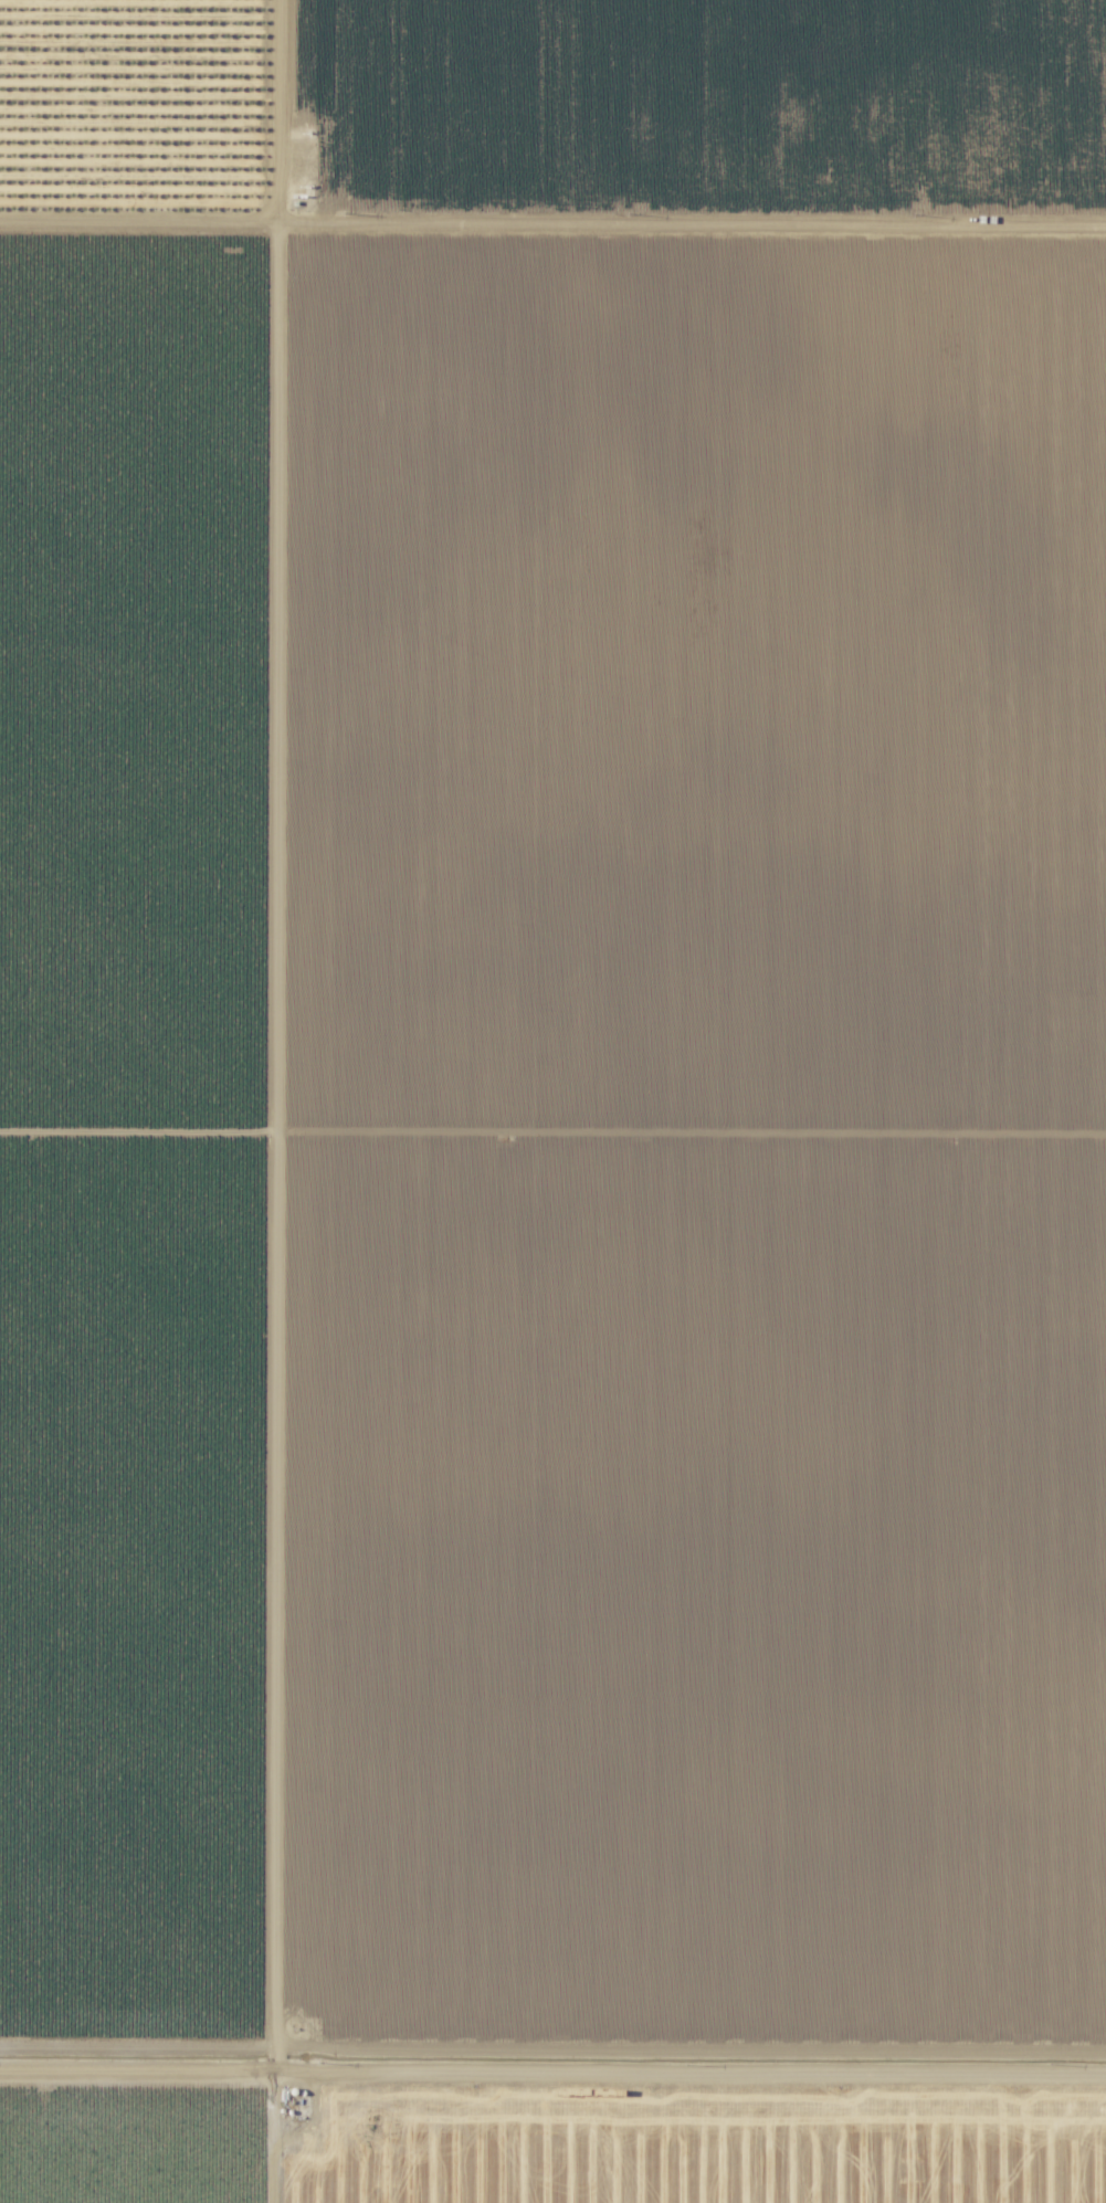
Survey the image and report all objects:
road: (552, 2073)
road: (270, 2138)

